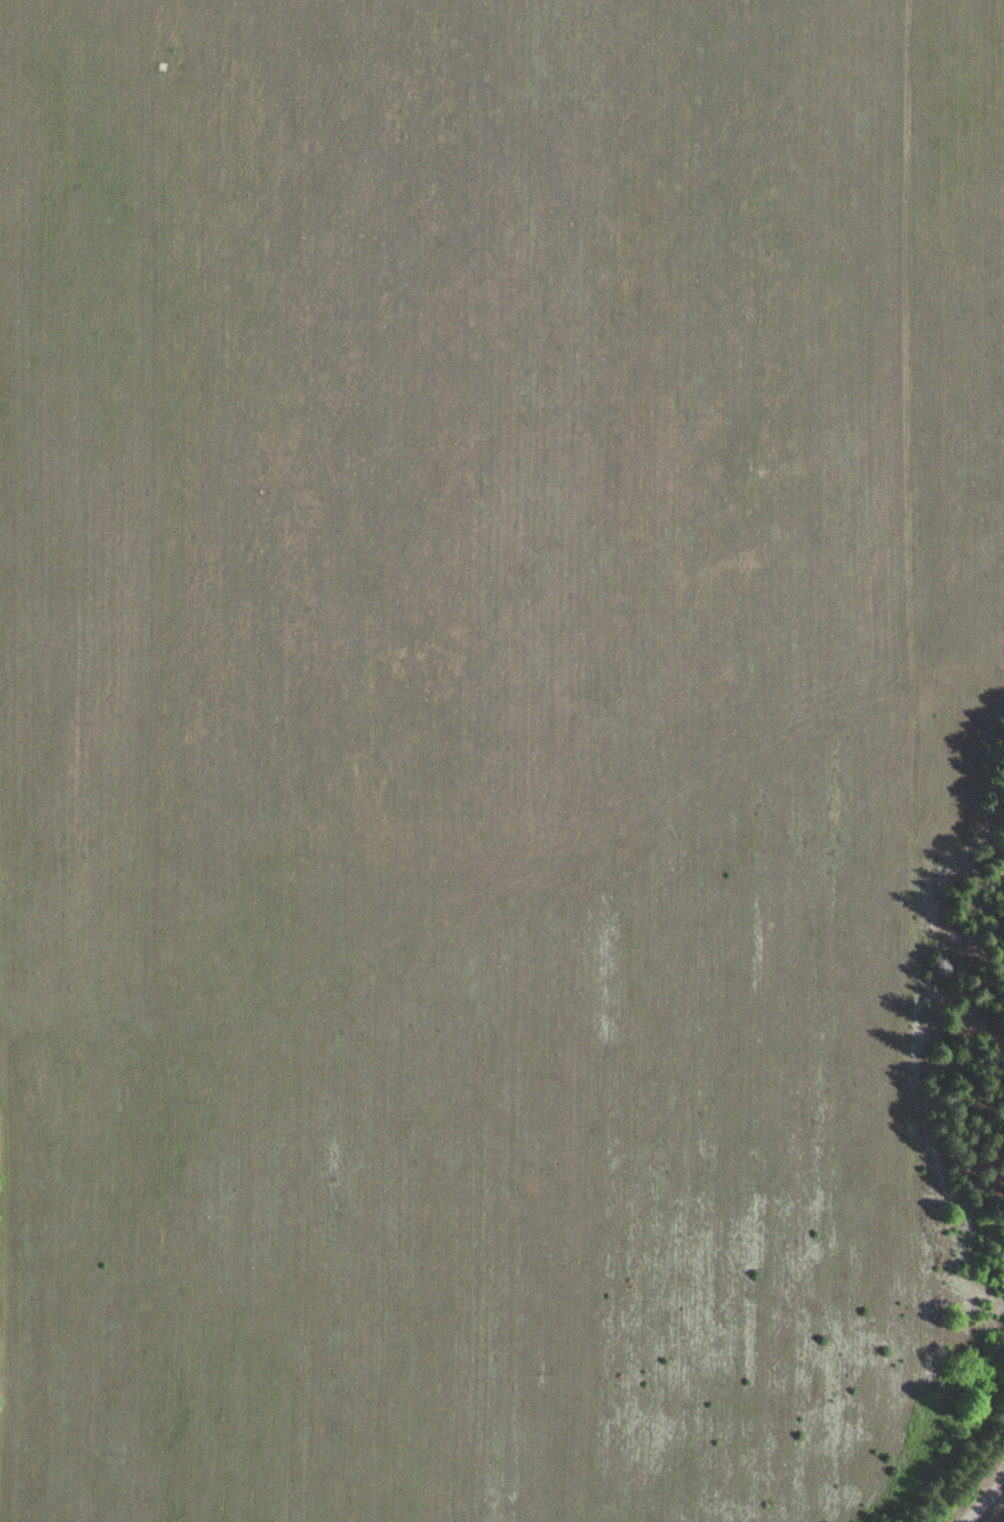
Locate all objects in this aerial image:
railway: (985, 1501)

